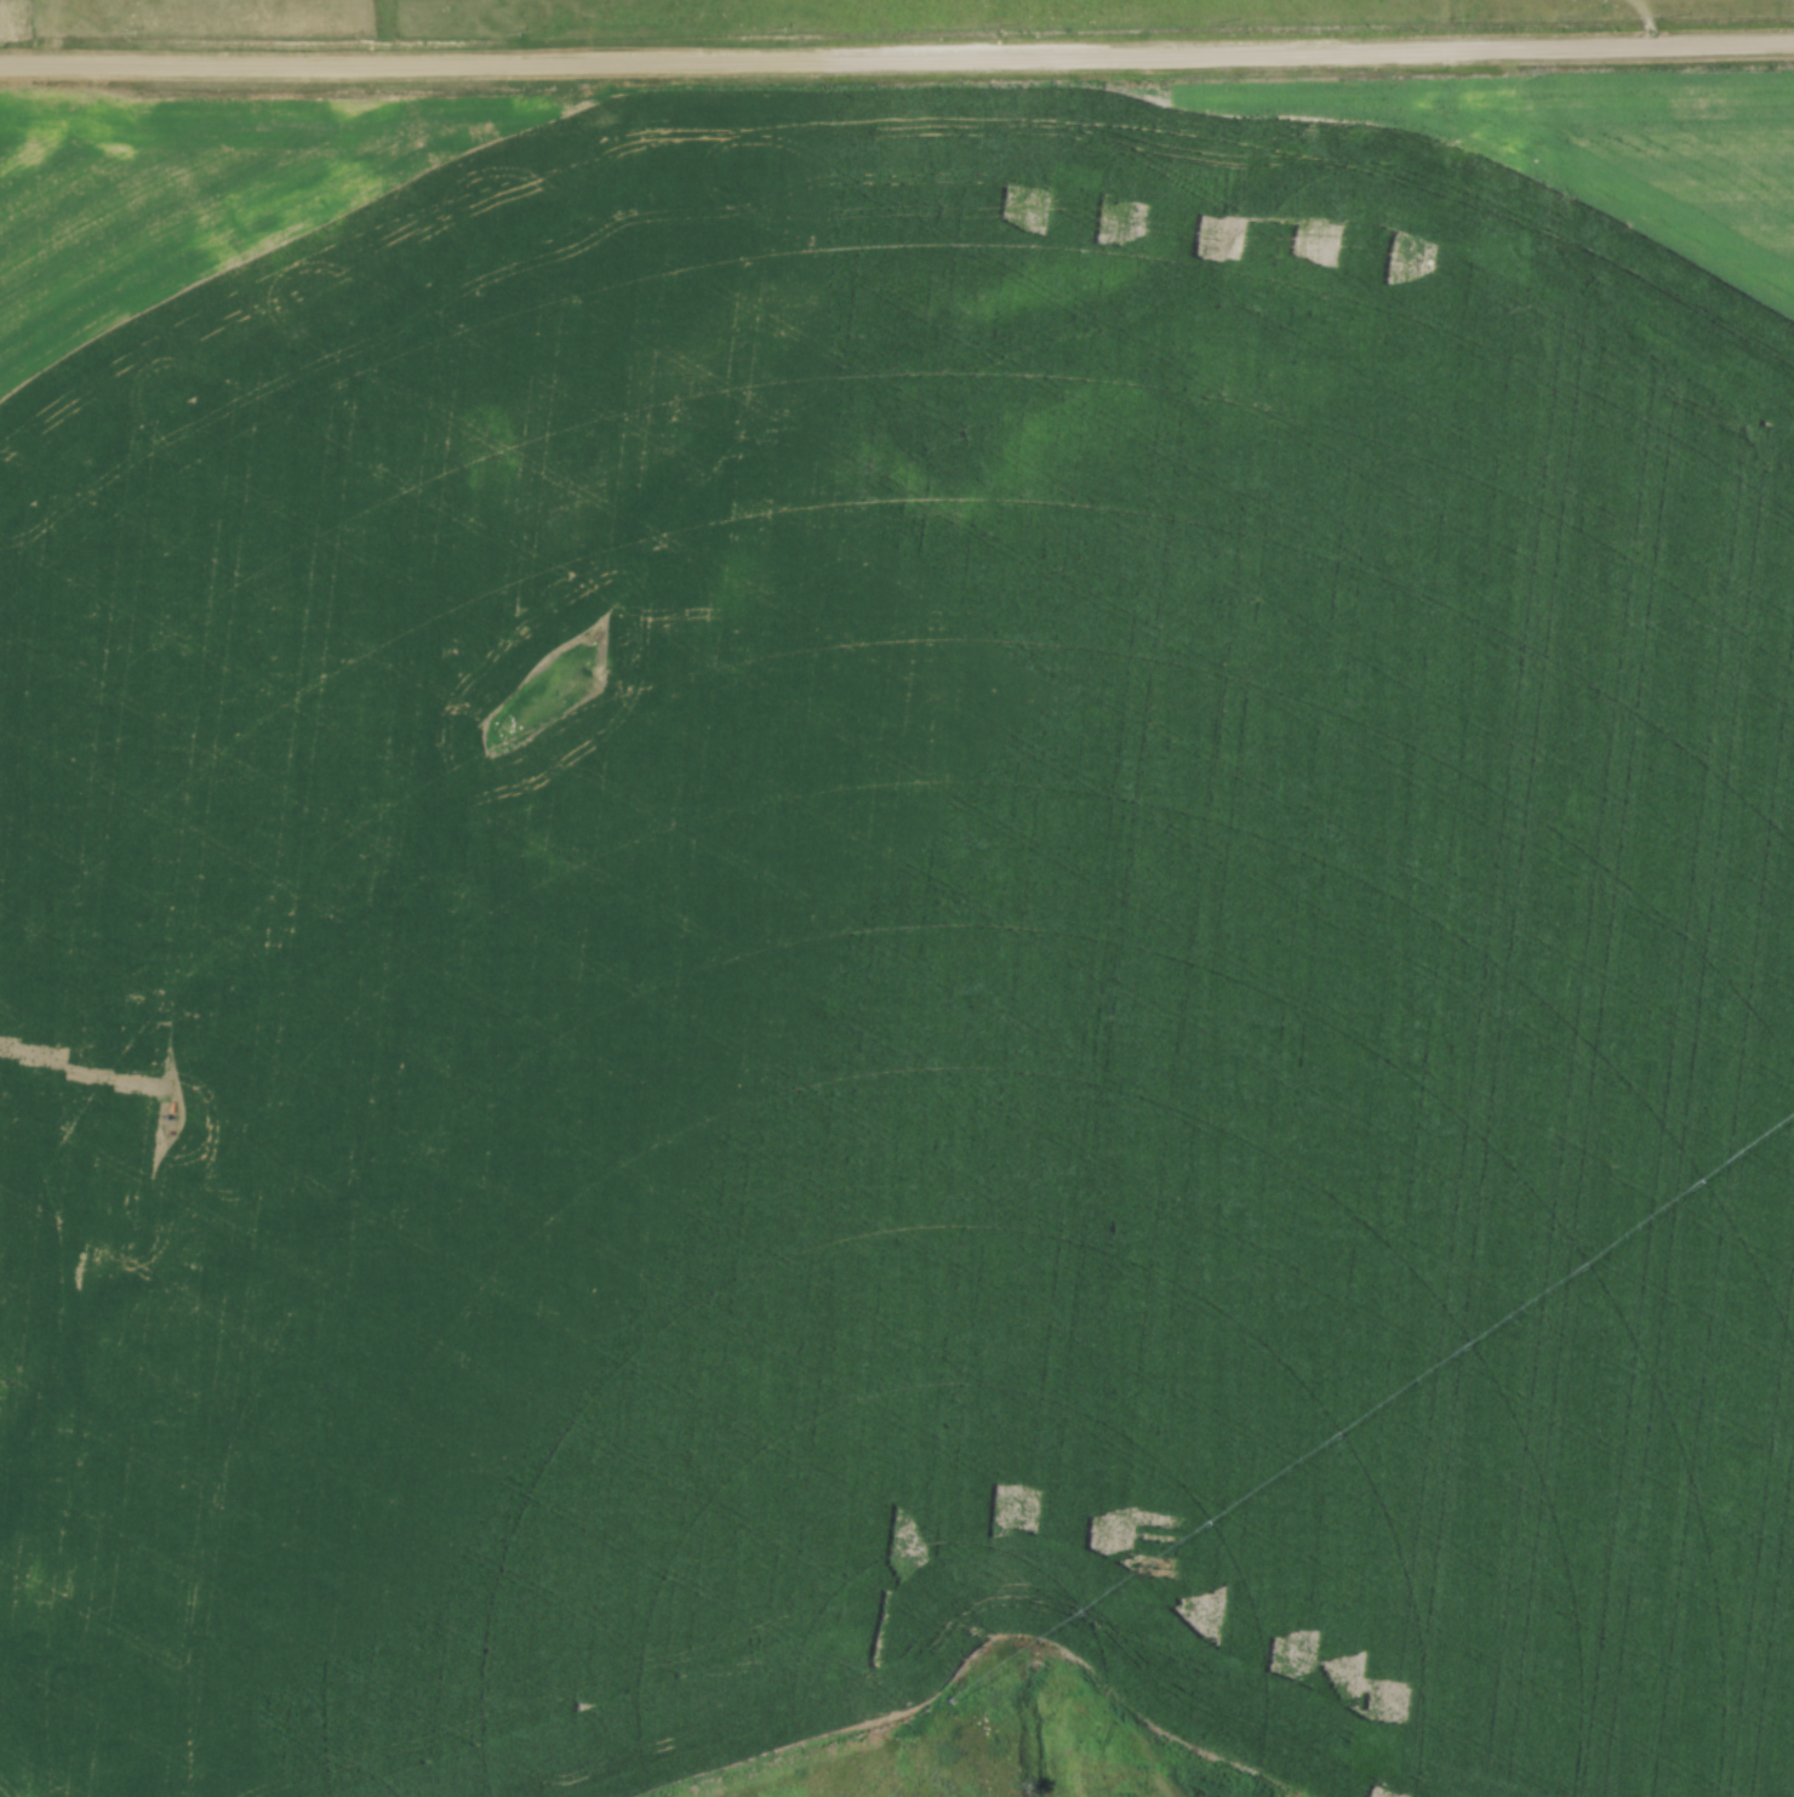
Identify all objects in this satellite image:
crop: (8, 13)
road: (897, 63)
crop: (1579, 147)
crop: (196, 188)
crop: (902, 968)

